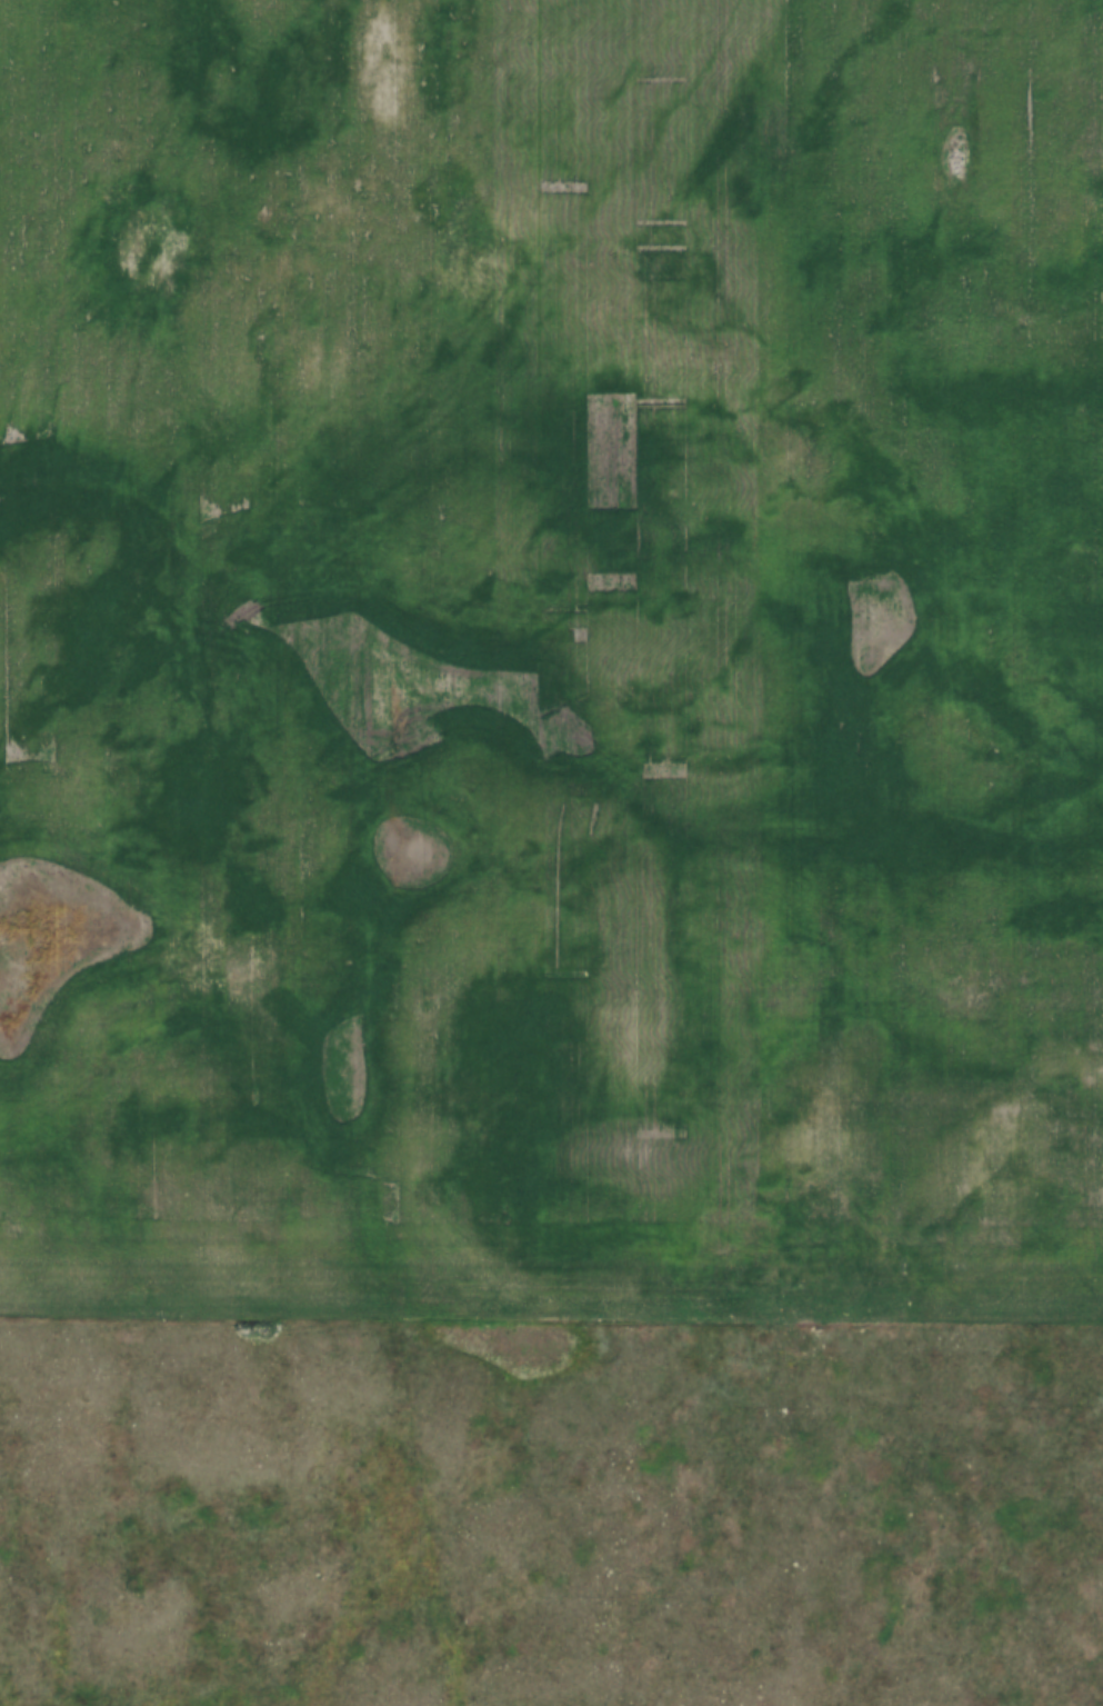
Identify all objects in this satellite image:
building: (1096, 412)

